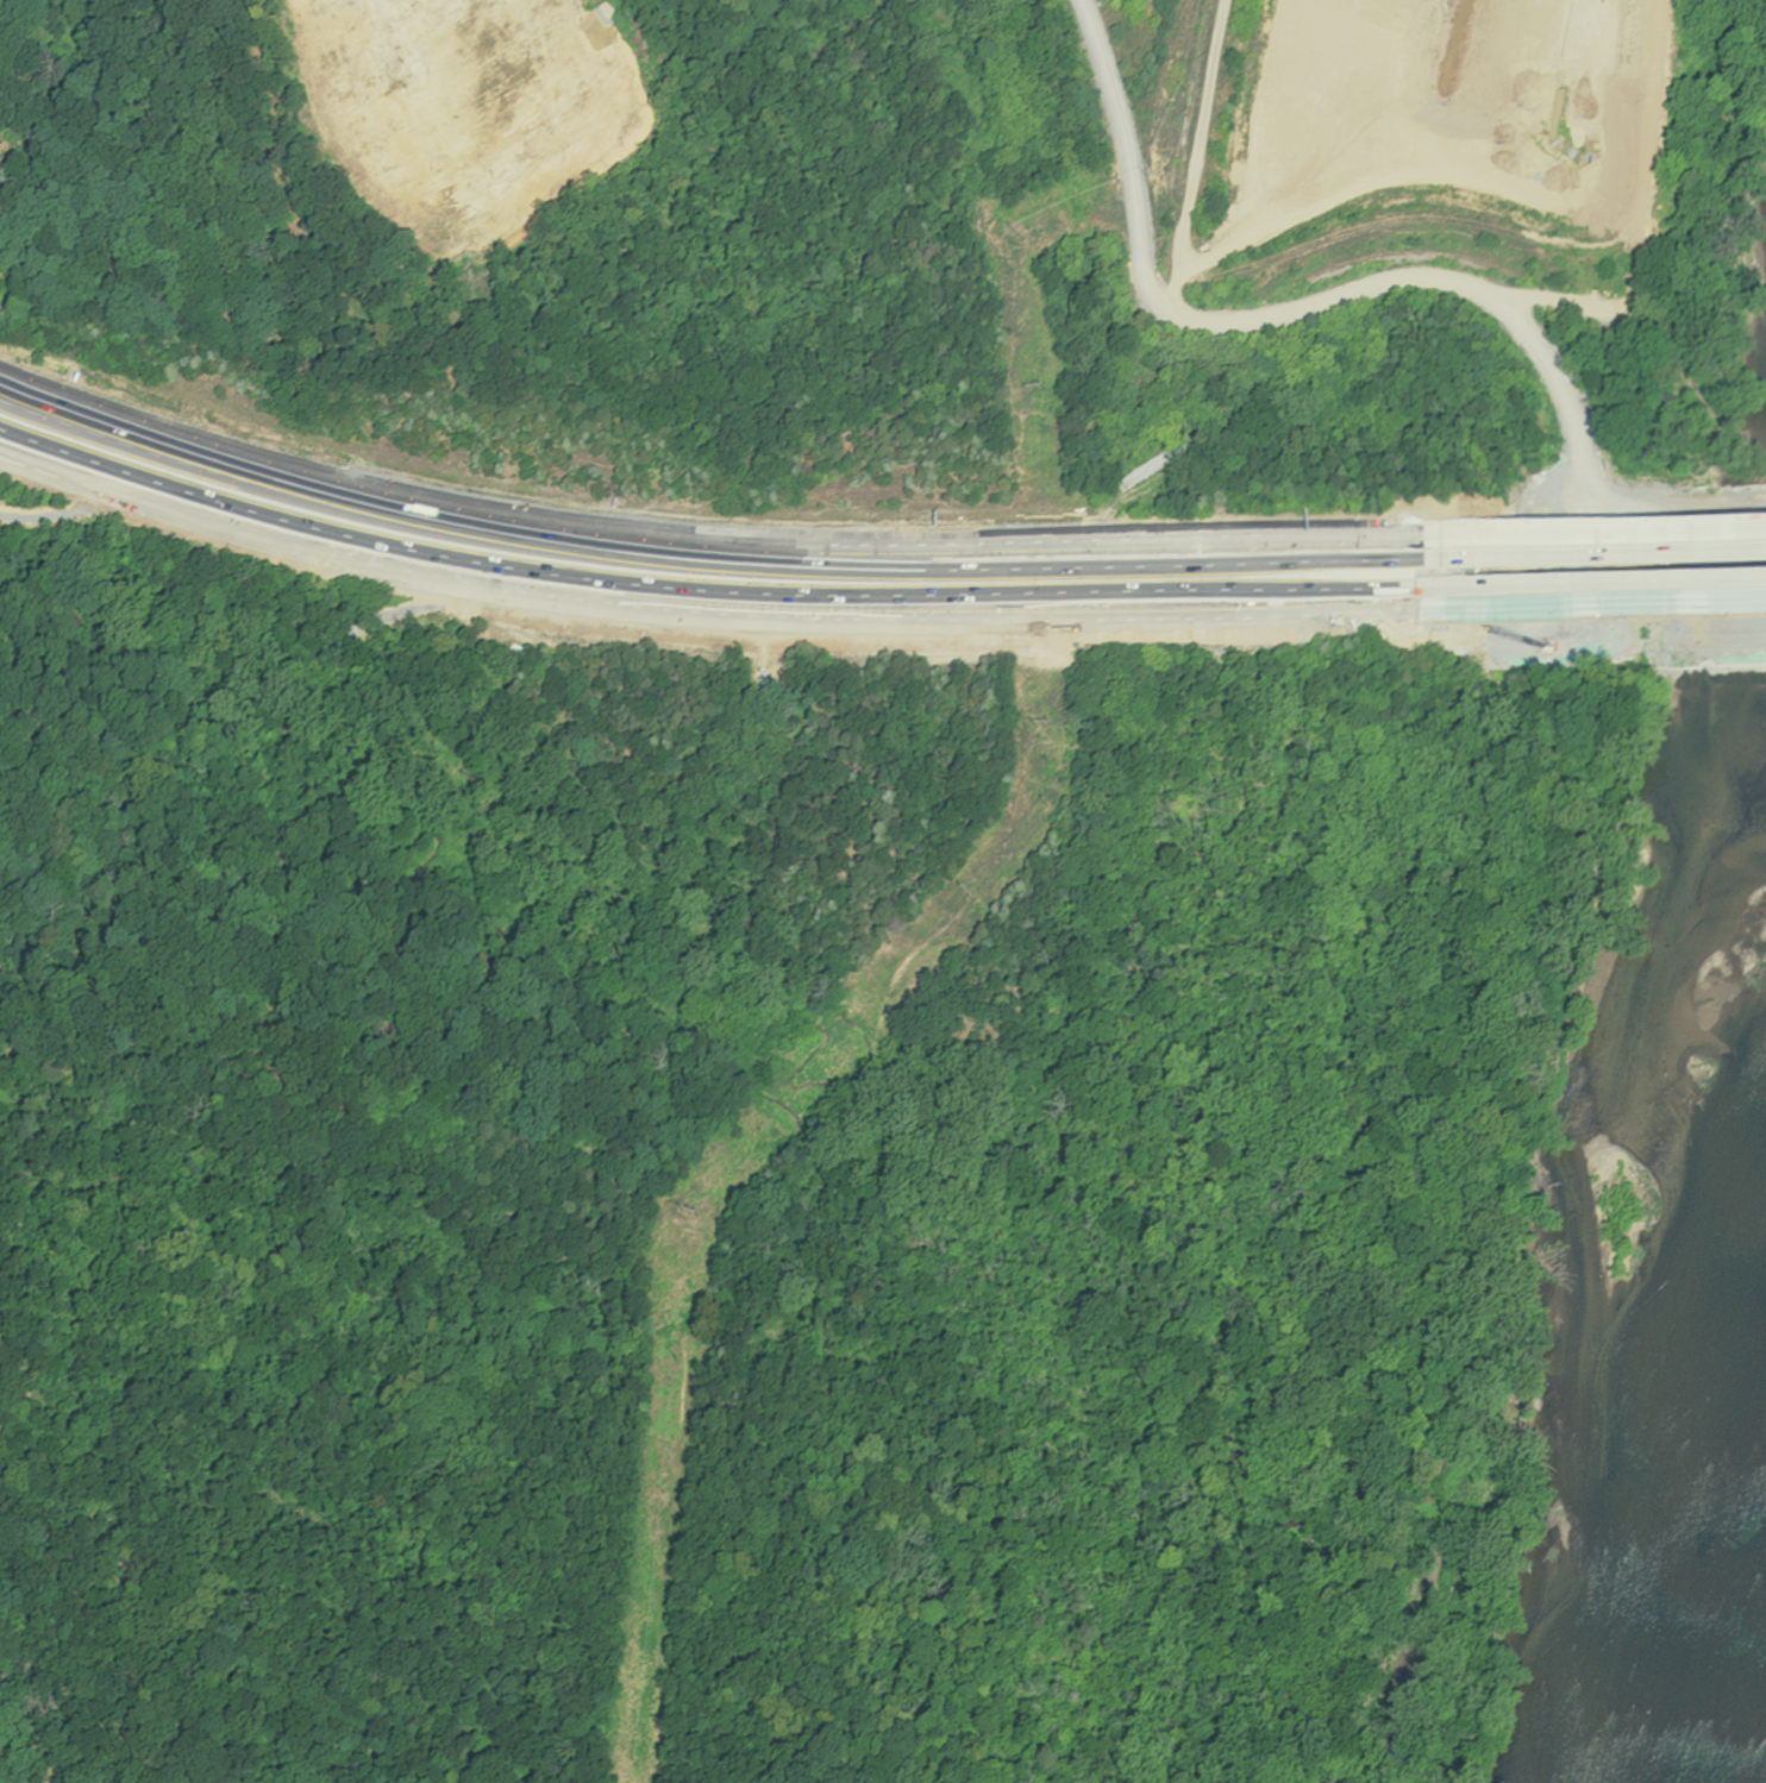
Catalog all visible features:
road: (1195, 153)
road: (1233, 322)
road: (1728, 527)
road: (1567, 530)
road: (710, 542)
road: (944, 582)
road: (1720, 607)
road: (700, 608)
road: (1547, 610)
river: (1736, 1650)

